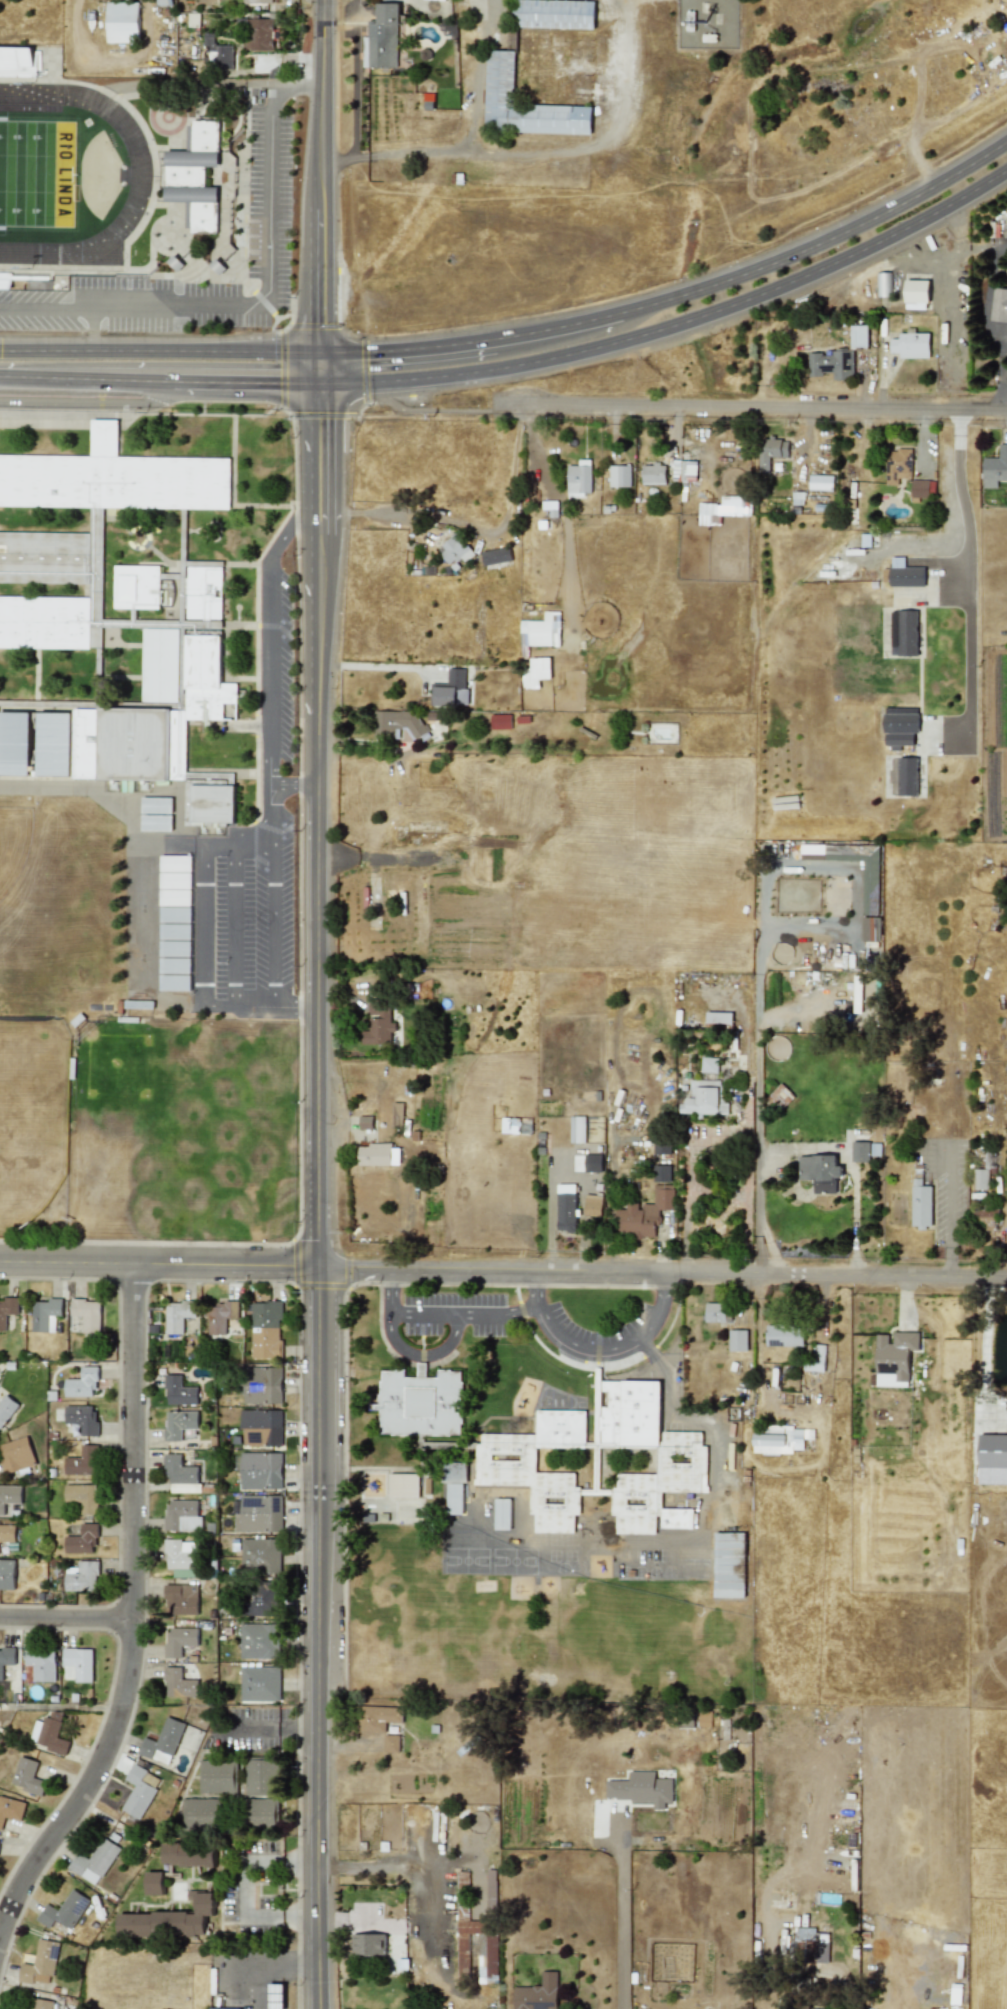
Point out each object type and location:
building: (256, 1)
building: (163, 2)
building: (554, 14)
building: (121, 21)
building: (258, 34)
building: (382, 39)
building: (218, 55)
building: (15, 60)
road: (355, 78)
building: (524, 103)
road: (459, 138)
road: (600, 140)
road: (1003, 168)
track: (140, 169)
park: (36, 173)
track: (58, 174)
track: (67, 175)
building: (194, 176)
road: (322, 176)
road: (820, 239)
road: (984, 247)
building: (882, 284)
road: (957, 288)
building: (915, 294)
road: (261, 303)
building: (999, 305)
road: (673, 324)
road: (555, 326)
road: (93, 327)
building: (858, 336)
building: (910, 345)
road: (405, 347)
road: (159, 350)
traffic signals: (319, 353)
building: (842, 363)
road: (318, 367)
road: (84, 377)
road: (242, 381)
traffic signals: (318, 382)
road: (486, 386)
road: (438, 402)
road: (90, 403)
road: (752, 405)
building: (770, 451)
building: (897, 464)
building: (995, 467)
building: (683, 470)
building: (652, 473)
building: (618, 475)
building: (579, 478)
building: (820, 482)
building: (921, 488)
building: (723, 508)
road: (374, 512)
road: (562, 513)
building: (97, 520)
building: (454, 549)
building: (495, 555)
road: (969, 575)
building: (138, 585)
building: (903, 632)
building: (160, 665)
road: (375, 666)
building: (198, 684)
building: (450, 689)
building: (500, 721)
building: (395, 722)
building: (899, 729)
building: (86, 743)
building: (15, 744)
building: (55, 744)
building: (134, 744)
building: (907, 776)
road: (295, 786)
road: (108, 803)
building: (156, 804)
building: (155, 822)
road: (273, 837)
building: (175, 872)
building: (869, 887)
building: (174, 897)
building: (815, 899)
road: (762, 901)
building: (174, 914)
road: (236, 922)
road: (275, 922)
building: (175, 931)
building: (174, 948)
building: (174, 964)
building: (174, 982)
building: (718, 1016)
building: (379, 1022)
building: (704, 1091)
building: (781, 1096)
building: (397, 1113)
park: (34, 1116)
building: (365, 1123)
building: (576, 1128)
road: (804, 1146)
building: (661, 1147)
building: (859, 1151)
building: (374, 1154)
building: (593, 1162)
building: (819, 1171)
building: (661, 1173)
building: (981, 1179)
road: (318, 1195)
road: (684, 1201)
building: (592, 1205)
building: (920, 1205)
building: (566, 1212)
building: (643, 1213)
building: (987, 1215)
road: (503, 1270)
building: (7, 1309)
building: (716, 1312)
building: (87, 1313)
building: (45, 1314)
road: (442, 1314)
building: (178, 1315)
building: (220, 1315)
building: (266, 1329)
building: (784, 1335)
building: (738, 1339)
road: (600, 1346)
building: (895, 1353)
road: (422, 1357)
building: (81, 1383)
building: (262, 1385)
building: (179, 1391)
building: (419, 1402)
building: (6, 1408)
road: (687, 1414)
building: (81, 1418)
building: (179, 1423)
building: (261, 1427)
building: (780, 1439)
building: (992, 1450)
building: (16, 1455)
building: (505, 1460)
building: (681, 1460)
building: (83, 1461)
building: (260, 1470)
building: (181, 1475)
building: (403, 1485)
building: (454, 1485)
building: (9, 1495)
building: (82, 1496)
building: (259, 1513)
building: (502, 1513)
building: (183, 1515)
building: (7, 1533)
building: (82, 1539)
building: (260, 1555)
building: (182, 1557)
building: (7, 1574)
building: (82, 1575)
building: (181, 1599)
building: (263, 1599)
road: (68, 1614)
road: (136, 1615)
building: (179, 1640)
building: (259, 1640)
building: (6, 1657)
building: (78, 1662)
building: (41, 1663)
building: (178, 1683)
building: (259, 1683)
building: (379, 1717)
building: (48, 1733)
building: (162, 1741)
building: (391, 1743)
building: (261, 1775)
building: (27, 1776)
building: (217, 1776)
building: (640, 1789)
building: (139, 1791)
building: (11, 1809)
building: (262, 1811)
building: (200, 1813)
building: (188, 1855)
building: (94, 1861)
building: (154, 1882)
road: (243, 1887)
building: (491, 1894)
building: (63, 1910)
building: (168, 1919)
road: (618, 1926)
building: (814, 1942)
building: (369, 1943)
building: (487, 1955)
road: (264, 1961)
building: (40, 1963)
building: (537, 1993)
building: (41, 2004)
building: (229, 2008)
road: (843, 2008)

